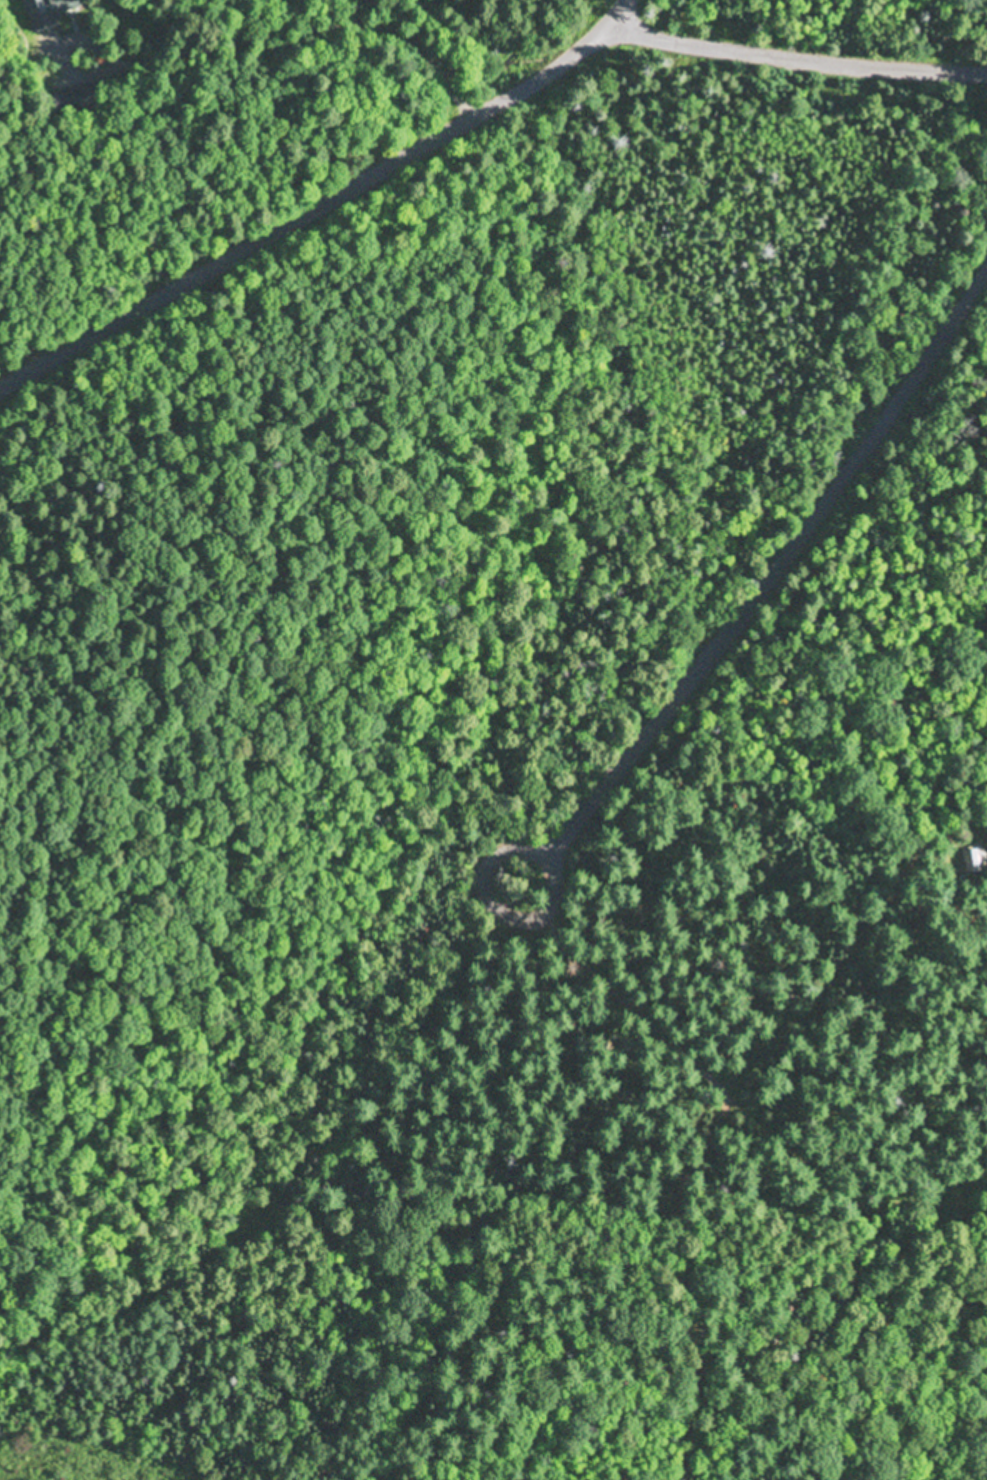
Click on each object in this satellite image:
road: (512, 42)
road: (595, 43)
road: (801, 55)
road: (403, 57)
road: (272, 234)
road: (51, 277)
road: (961, 317)
road: (961, 394)
road: (759, 595)
road: (860, 798)
building: (978, 858)
road: (556, 882)

